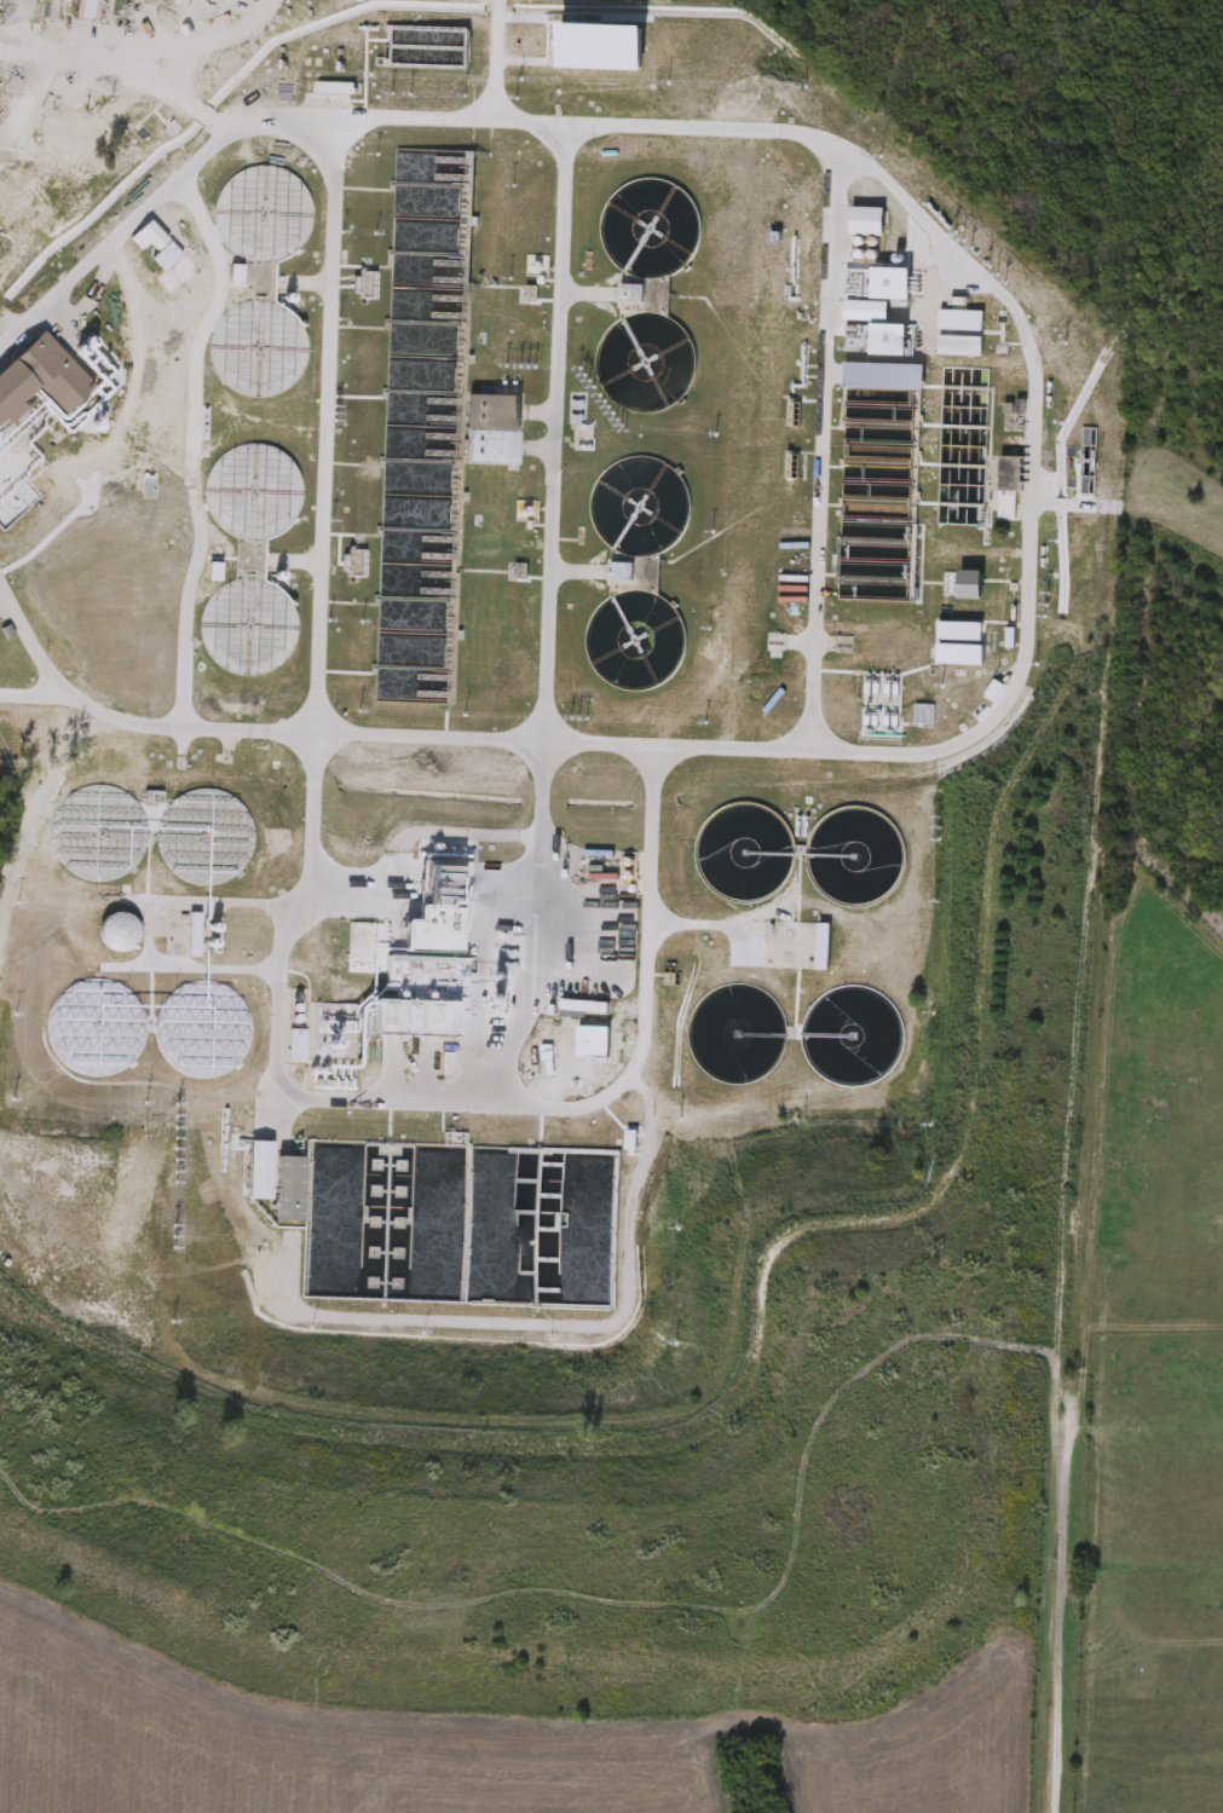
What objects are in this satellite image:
road: (240, 5)
building: (427, 47)
road: (494, 58)
building: (427, 293)
building: (648, 299)
building: (42, 381)
building: (99, 418)
road: (1027, 432)
building: (496, 433)
road: (819, 440)
building: (1013, 477)
building: (250, 558)
building: (974, 588)
road: (30, 645)
road: (36, 807)
road: (417, 908)
road: (699, 922)
building: (119, 934)
building: (196, 936)
building: (824, 948)
building: (191, 989)
building: (296, 1046)
road: (613, 1084)
road: (289, 1086)
building: (287, 1190)
road: (553, 1311)
road: (1050, 1650)

